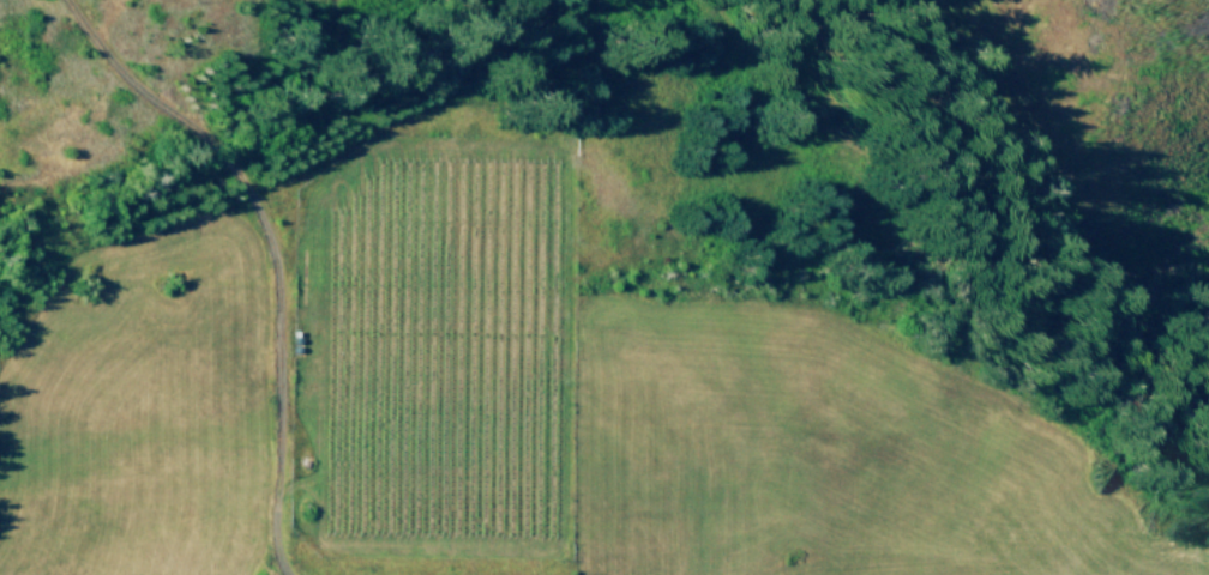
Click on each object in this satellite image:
road: (275, 247)

